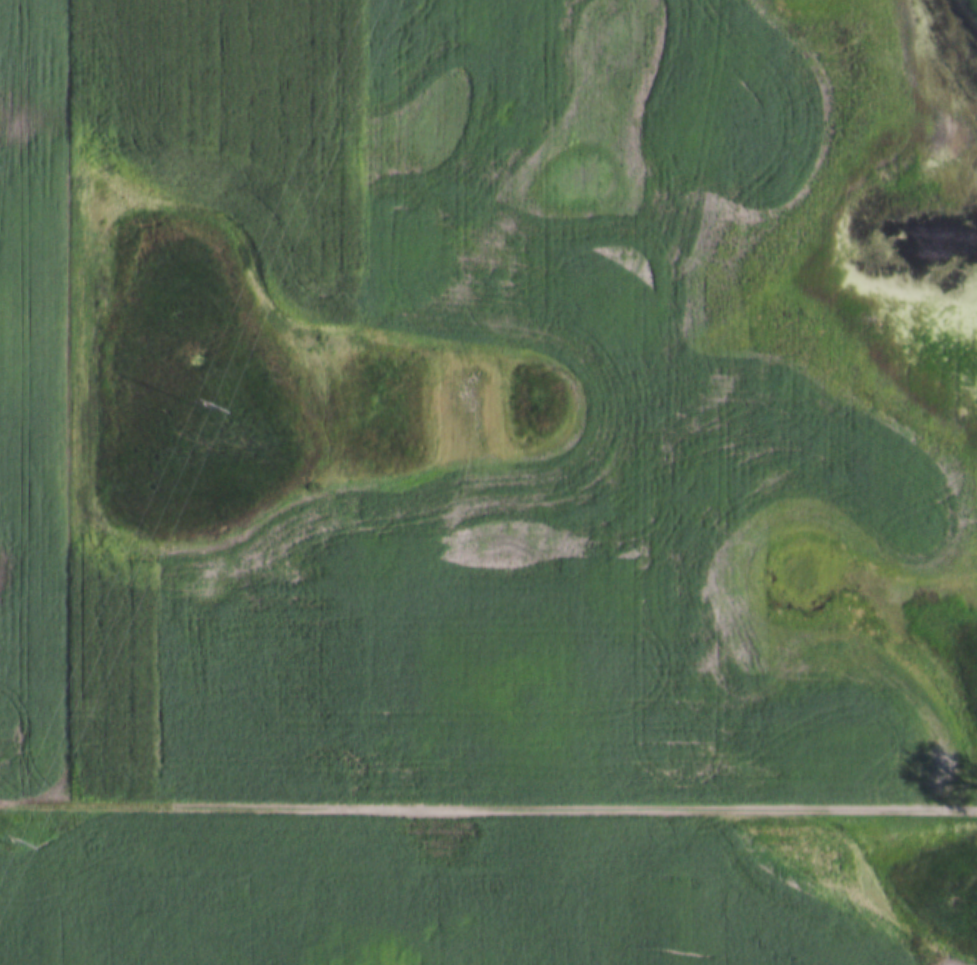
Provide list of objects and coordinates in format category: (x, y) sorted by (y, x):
power tower: (197, 402)
road: (488, 803)

